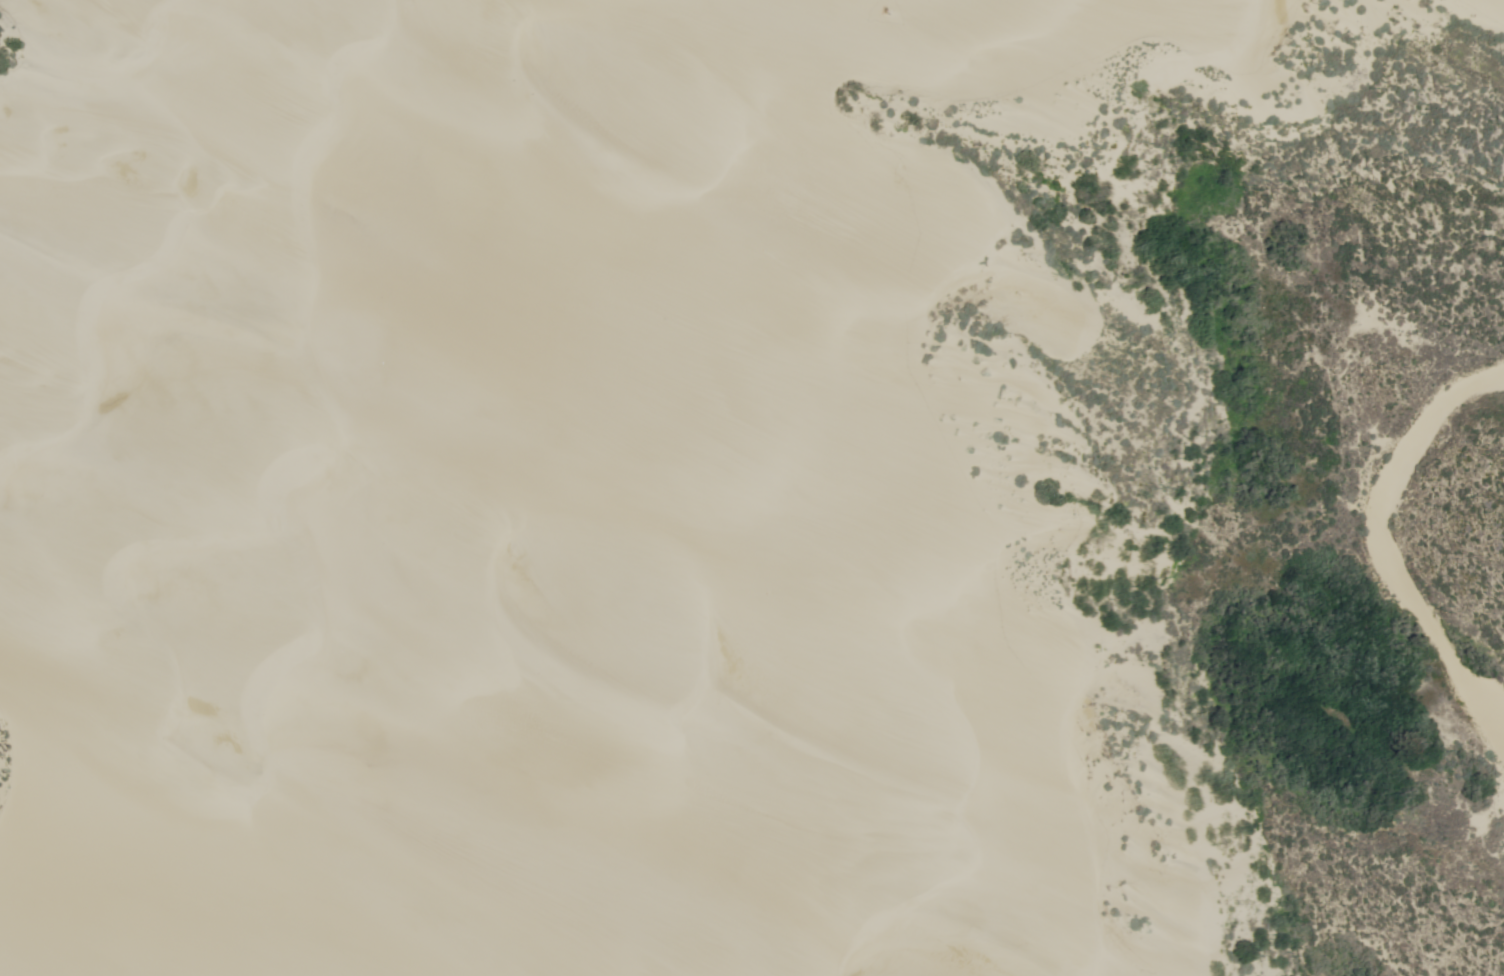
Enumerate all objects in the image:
park: (746, 485)
road: (728, 489)

